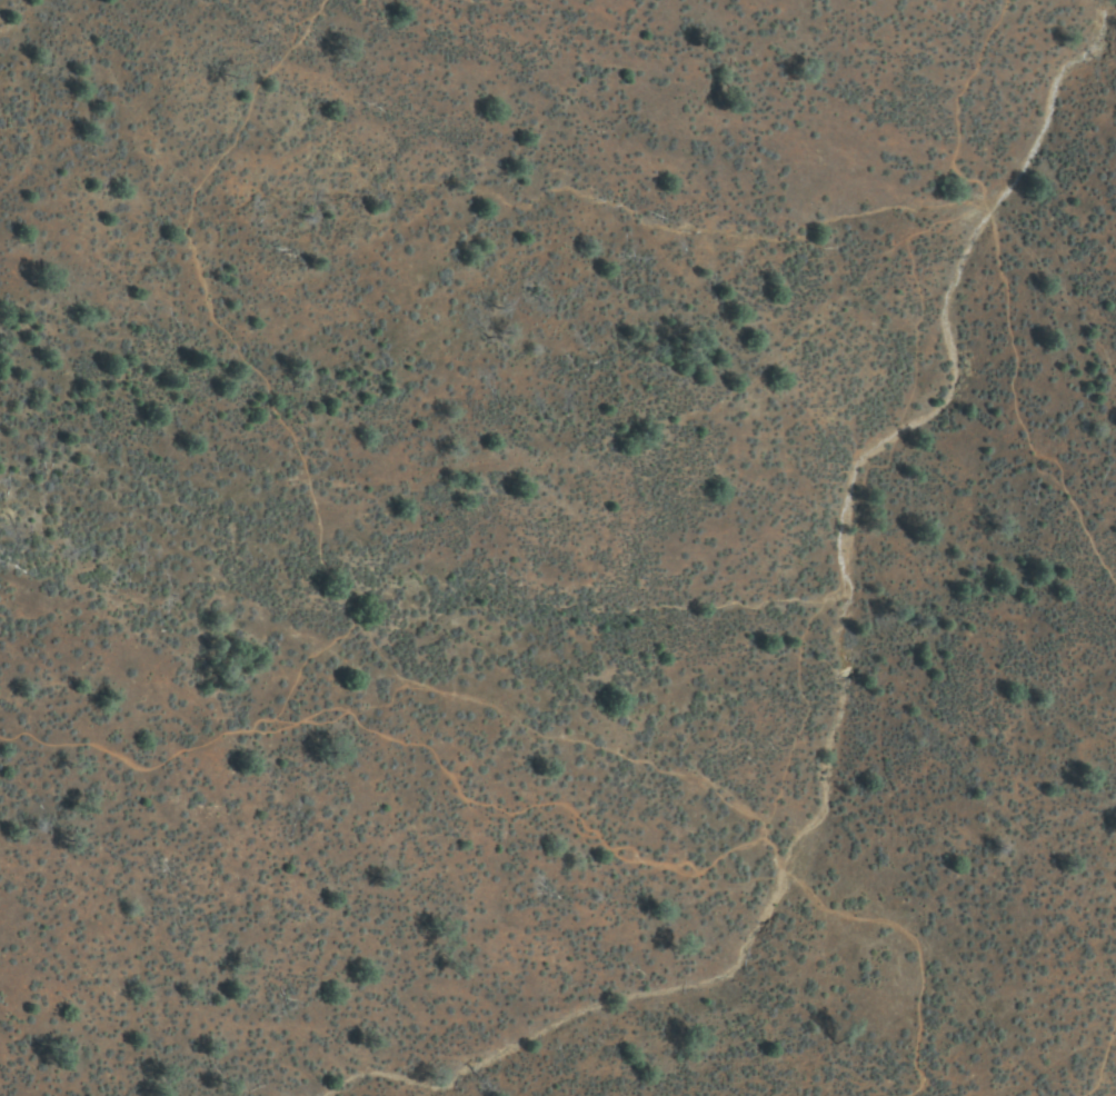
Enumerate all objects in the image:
road: (307, 489)

